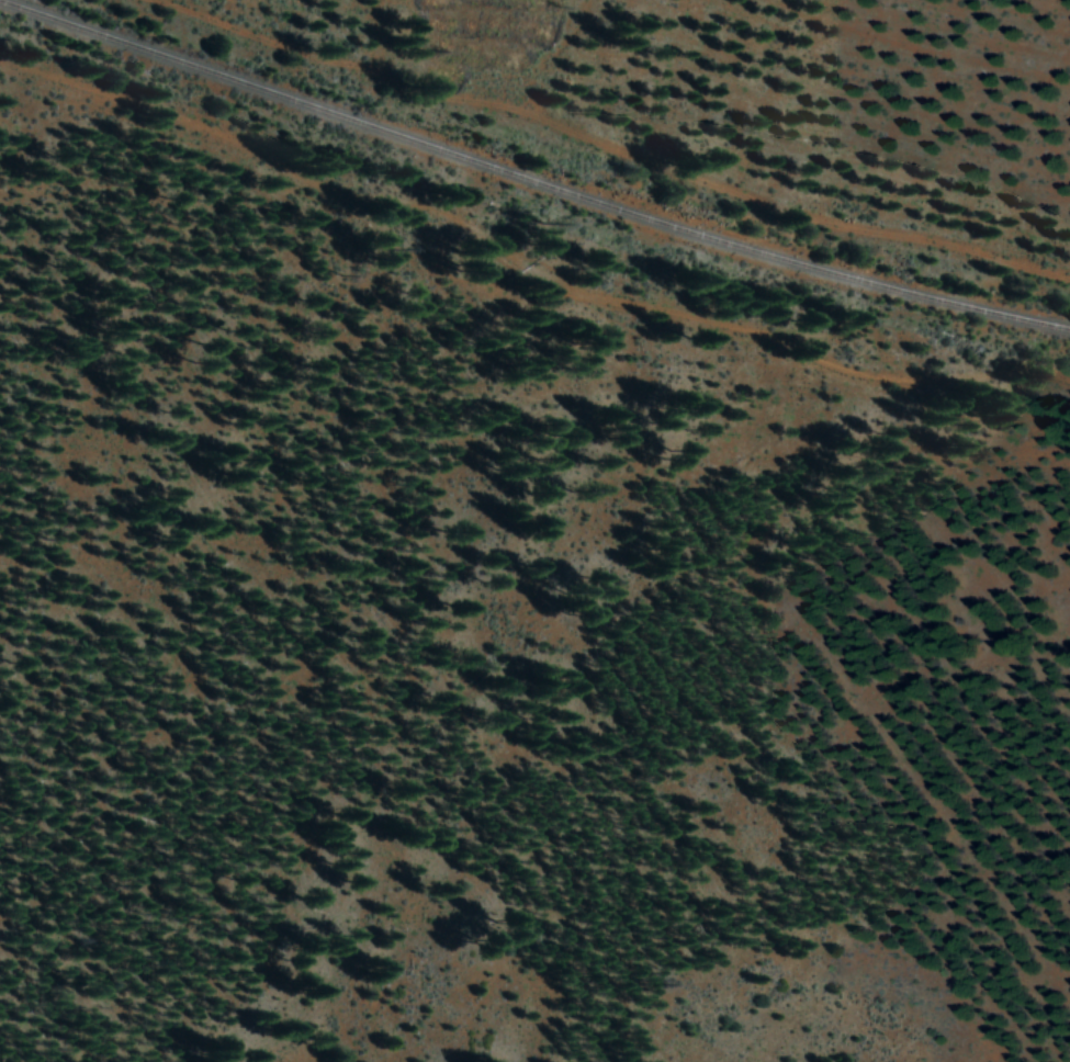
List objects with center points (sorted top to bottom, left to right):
railway: (530, 181)

